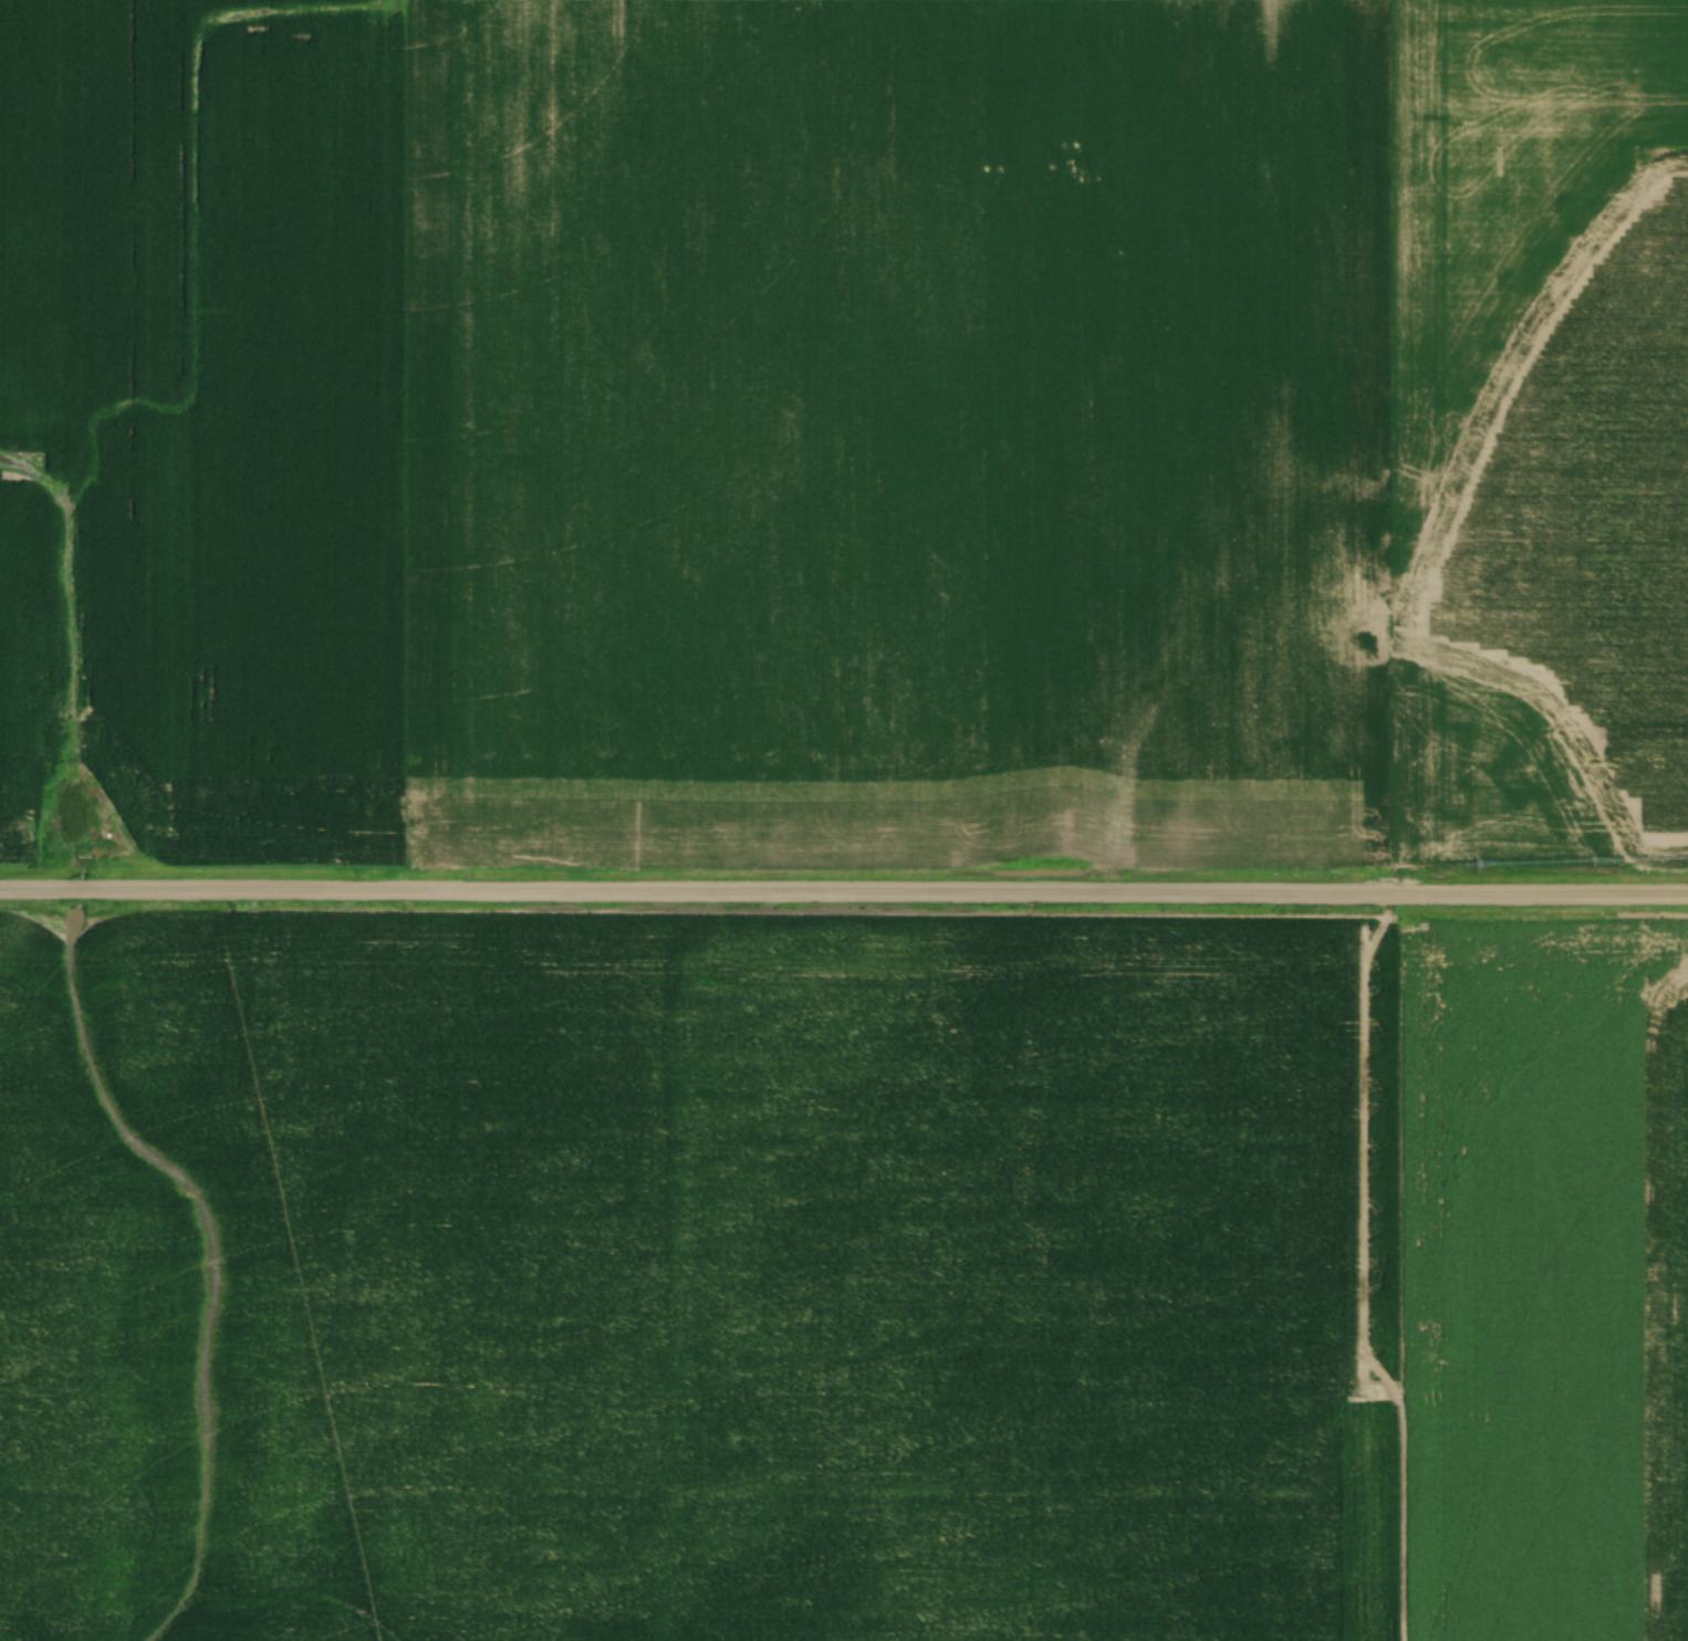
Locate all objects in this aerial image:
road: (843, 896)

